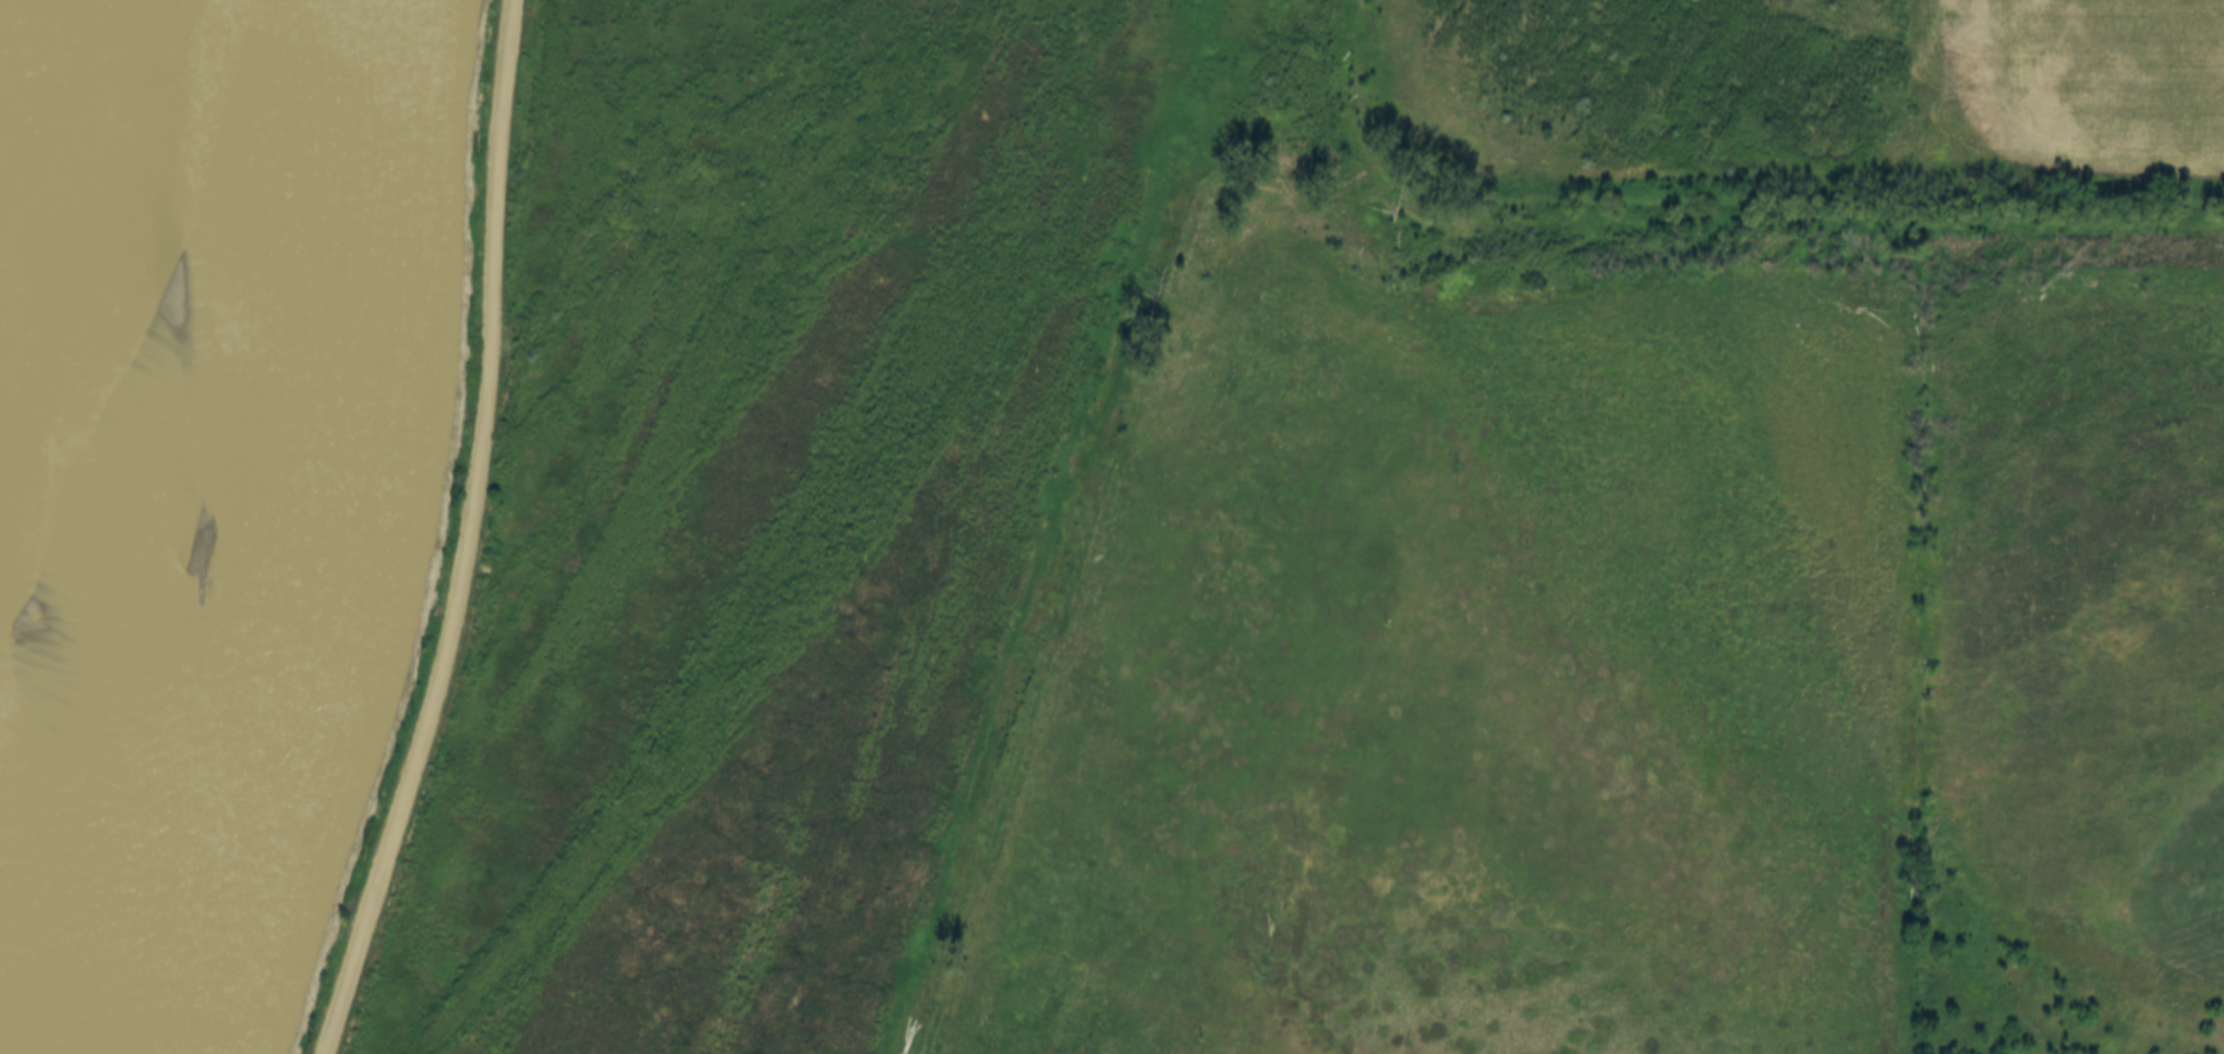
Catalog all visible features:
river: (102, 238)
road: (467, 535)

